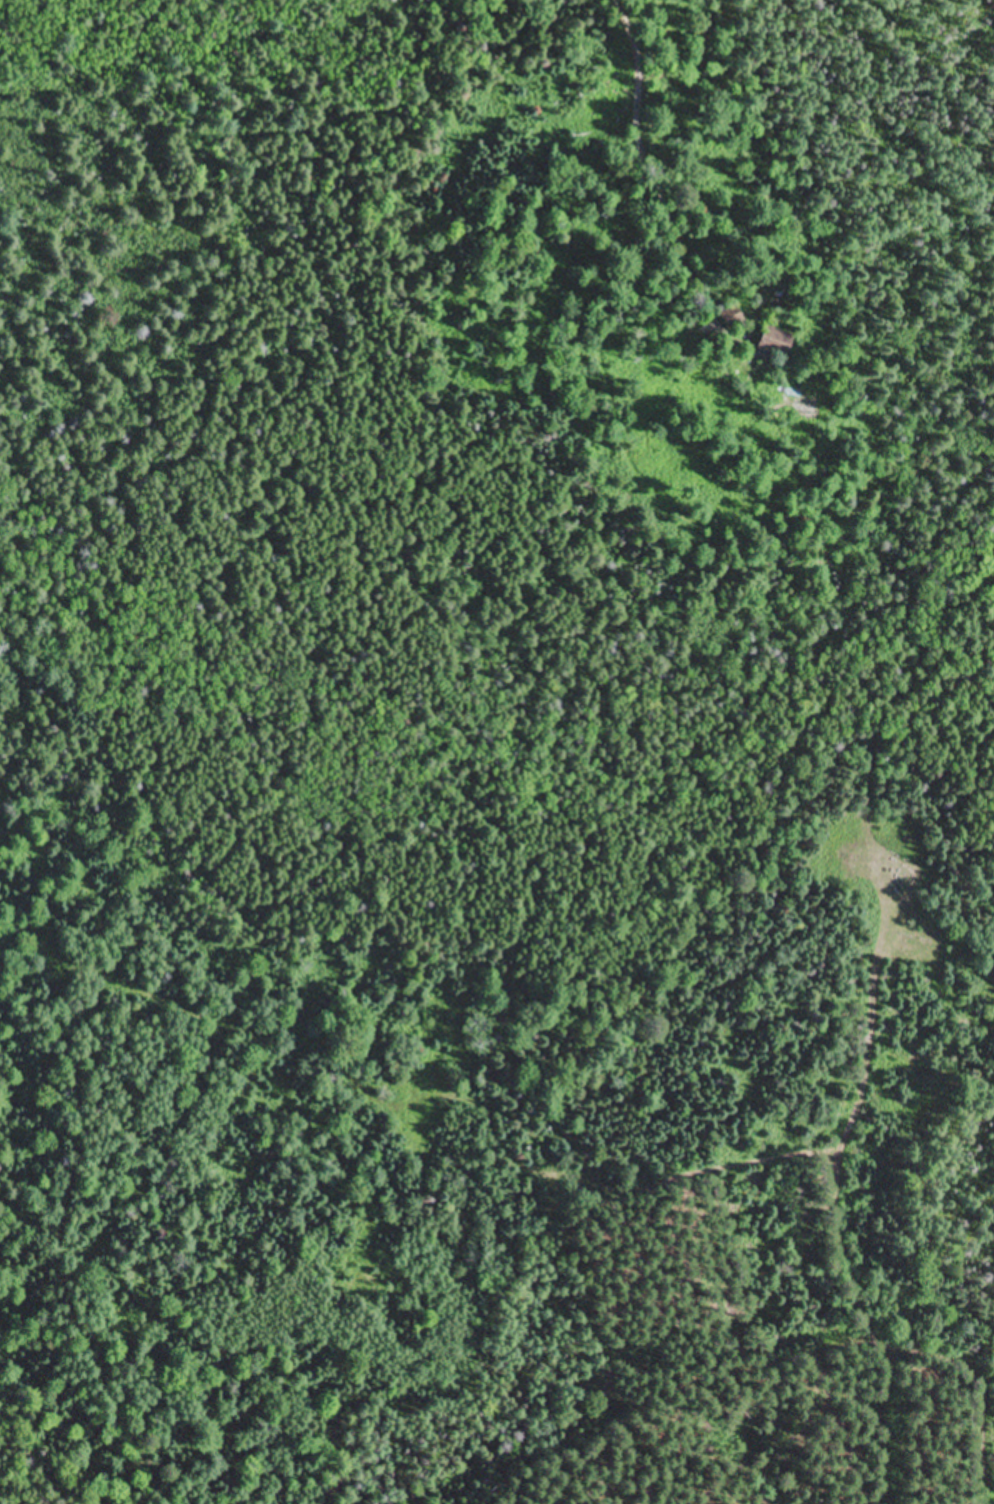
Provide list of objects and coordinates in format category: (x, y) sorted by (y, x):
building: (774, 346)

